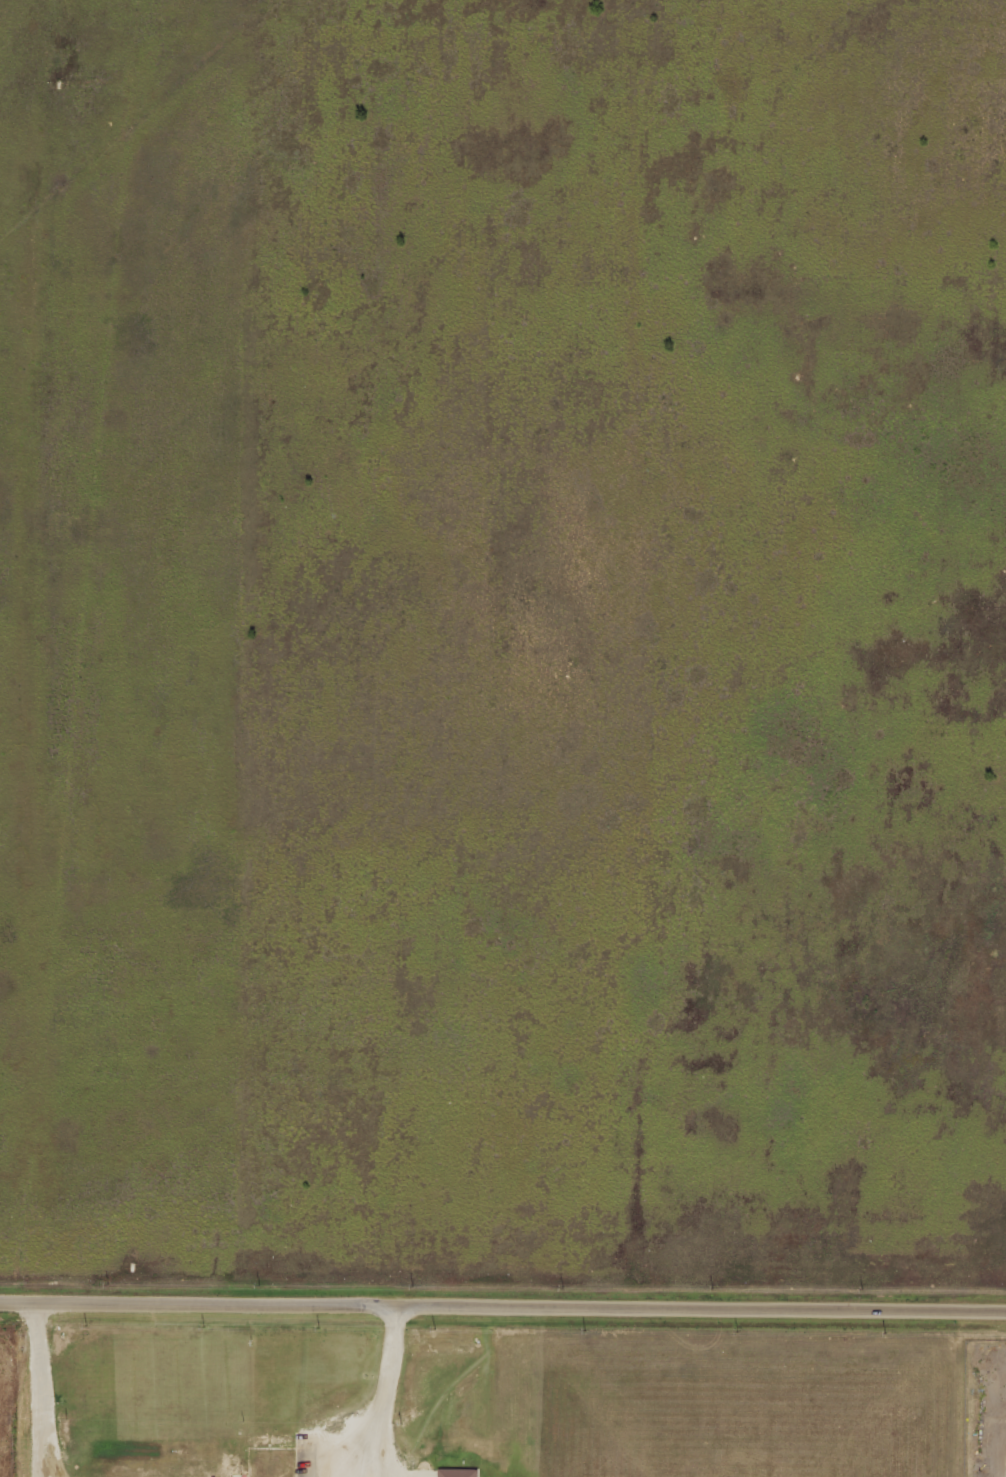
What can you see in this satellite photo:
road: (503, 1306)
building: (457, 1472)

